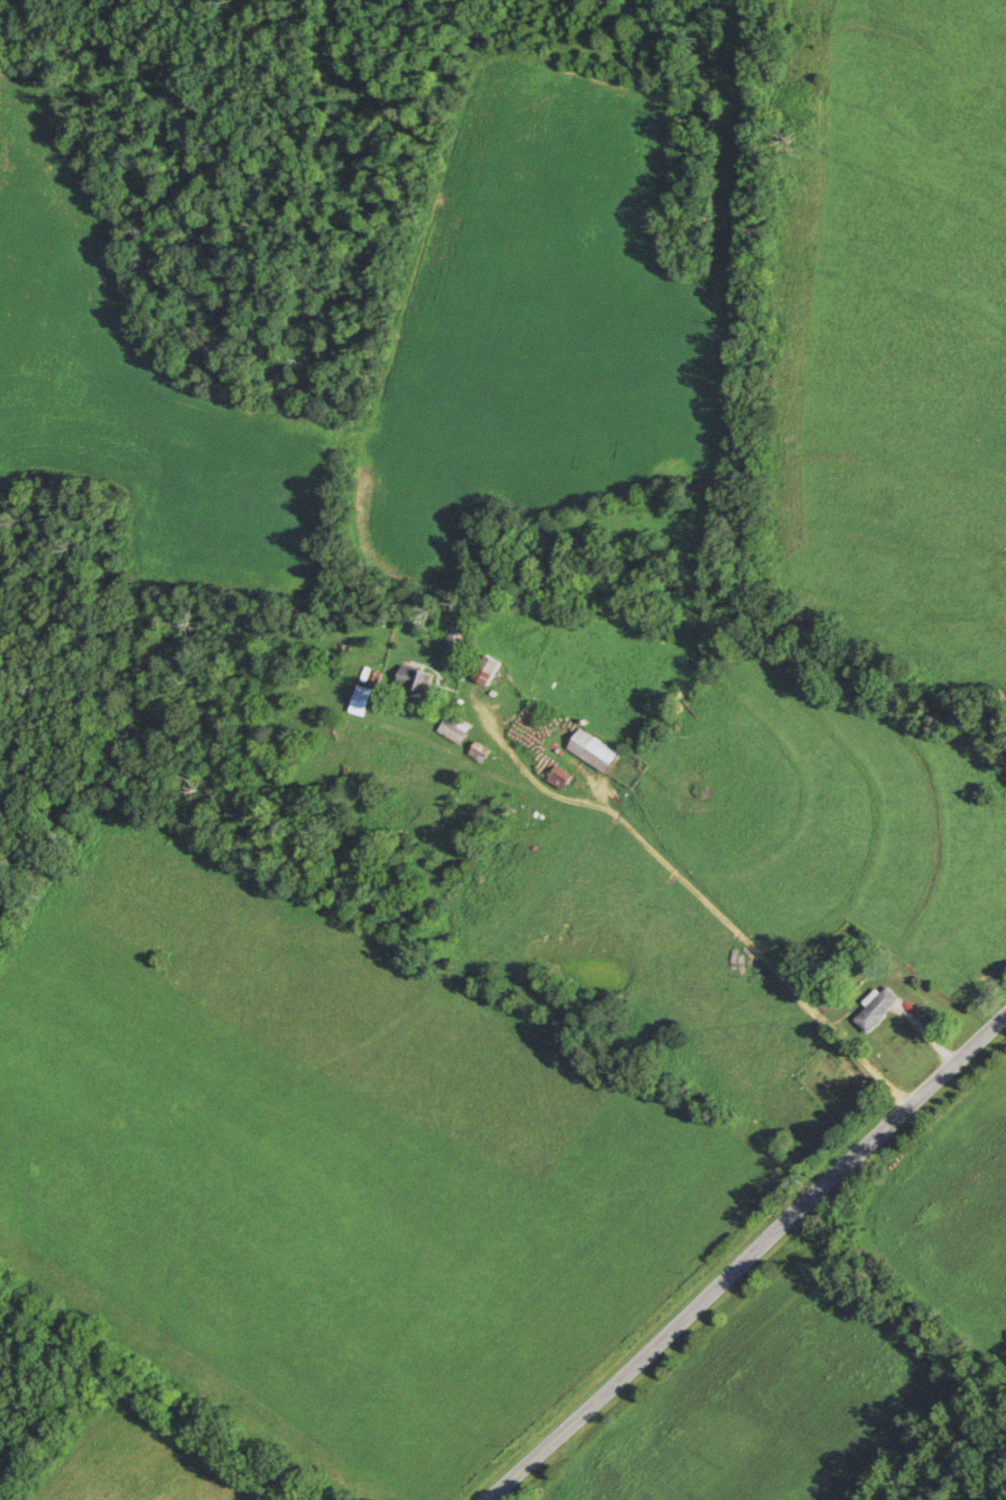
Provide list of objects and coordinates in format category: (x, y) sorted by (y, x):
building: (457, 640)
building: (488, 670)
building: (417, 678)
building: (362, 701)
building: (456, 728)
building: (595, 751)
building: (480, 753)
road: (670, 866)
building: (878, 1010)
road: (750, 1260)
road: (153, 1390)

